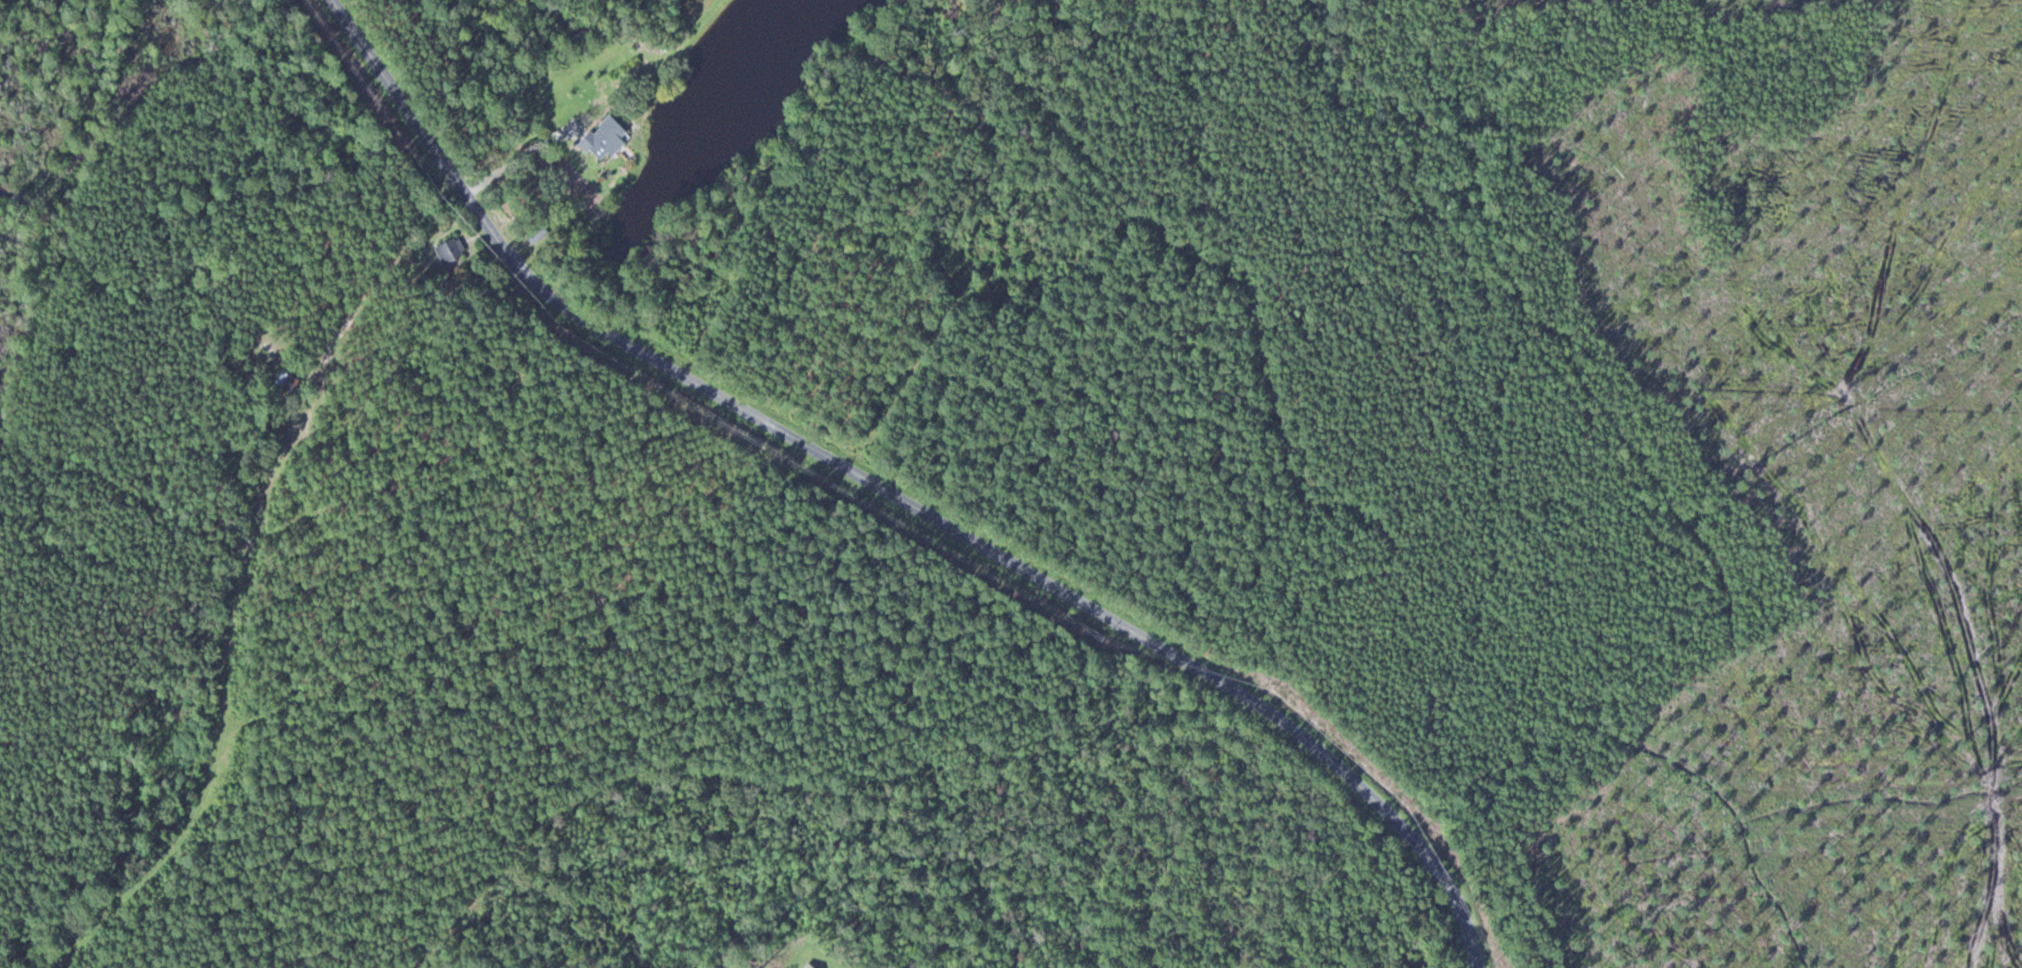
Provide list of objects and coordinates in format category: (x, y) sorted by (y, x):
building: (599, 136)
building: (448, 249)
building: (285, 381)
road: (892, 500)

